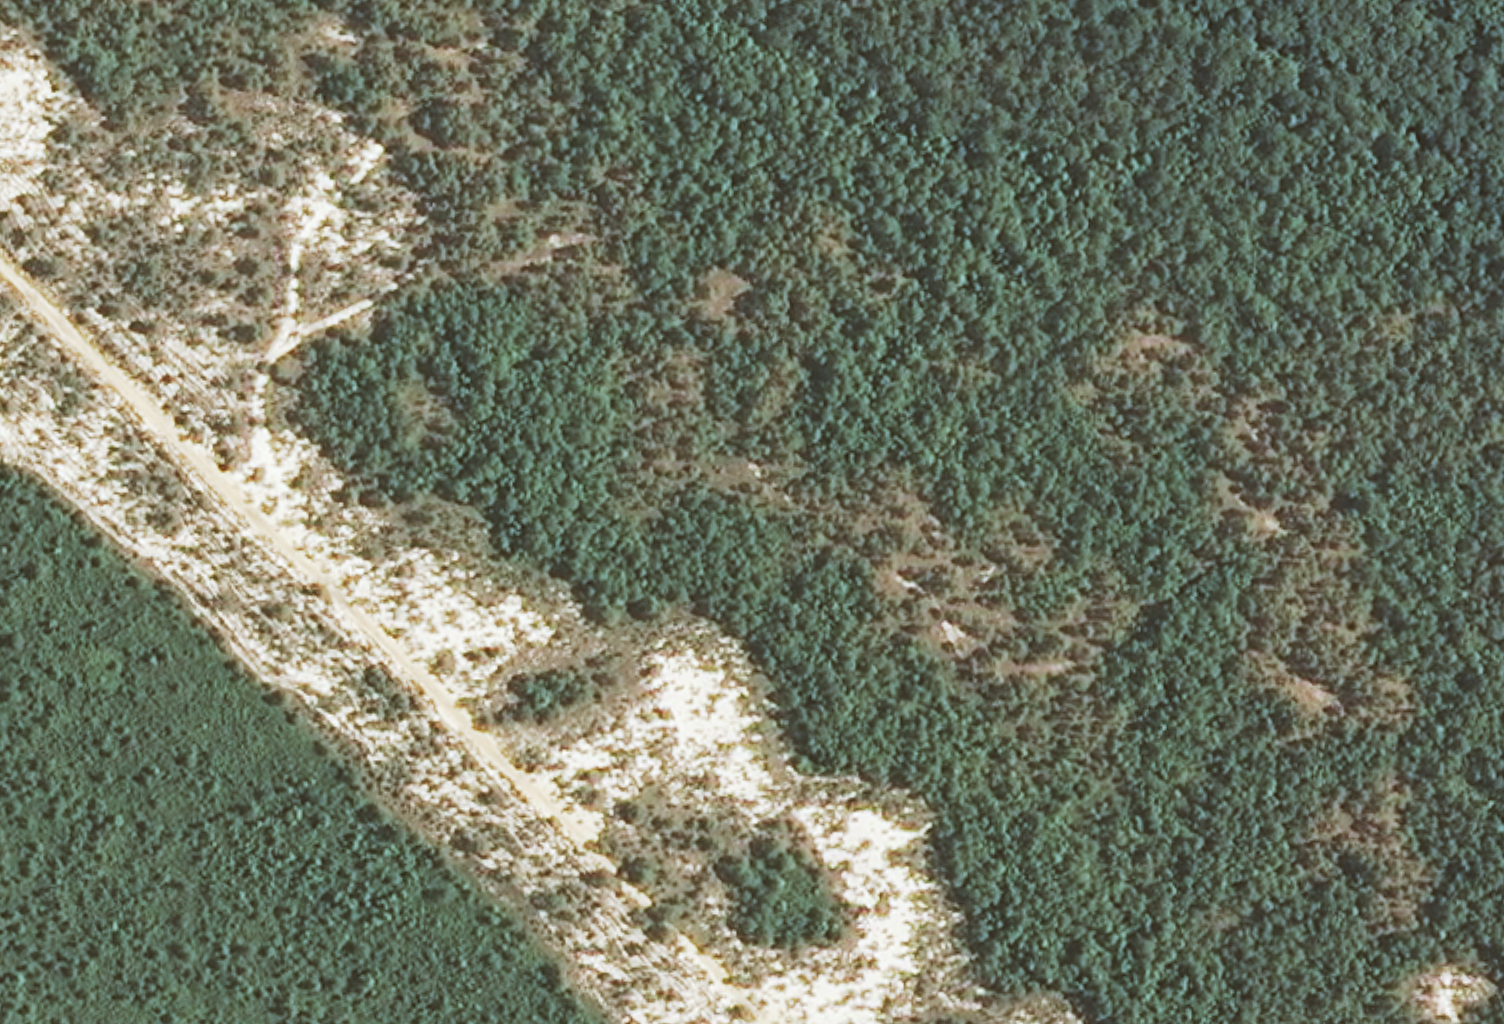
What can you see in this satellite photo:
road: (455, 621)

